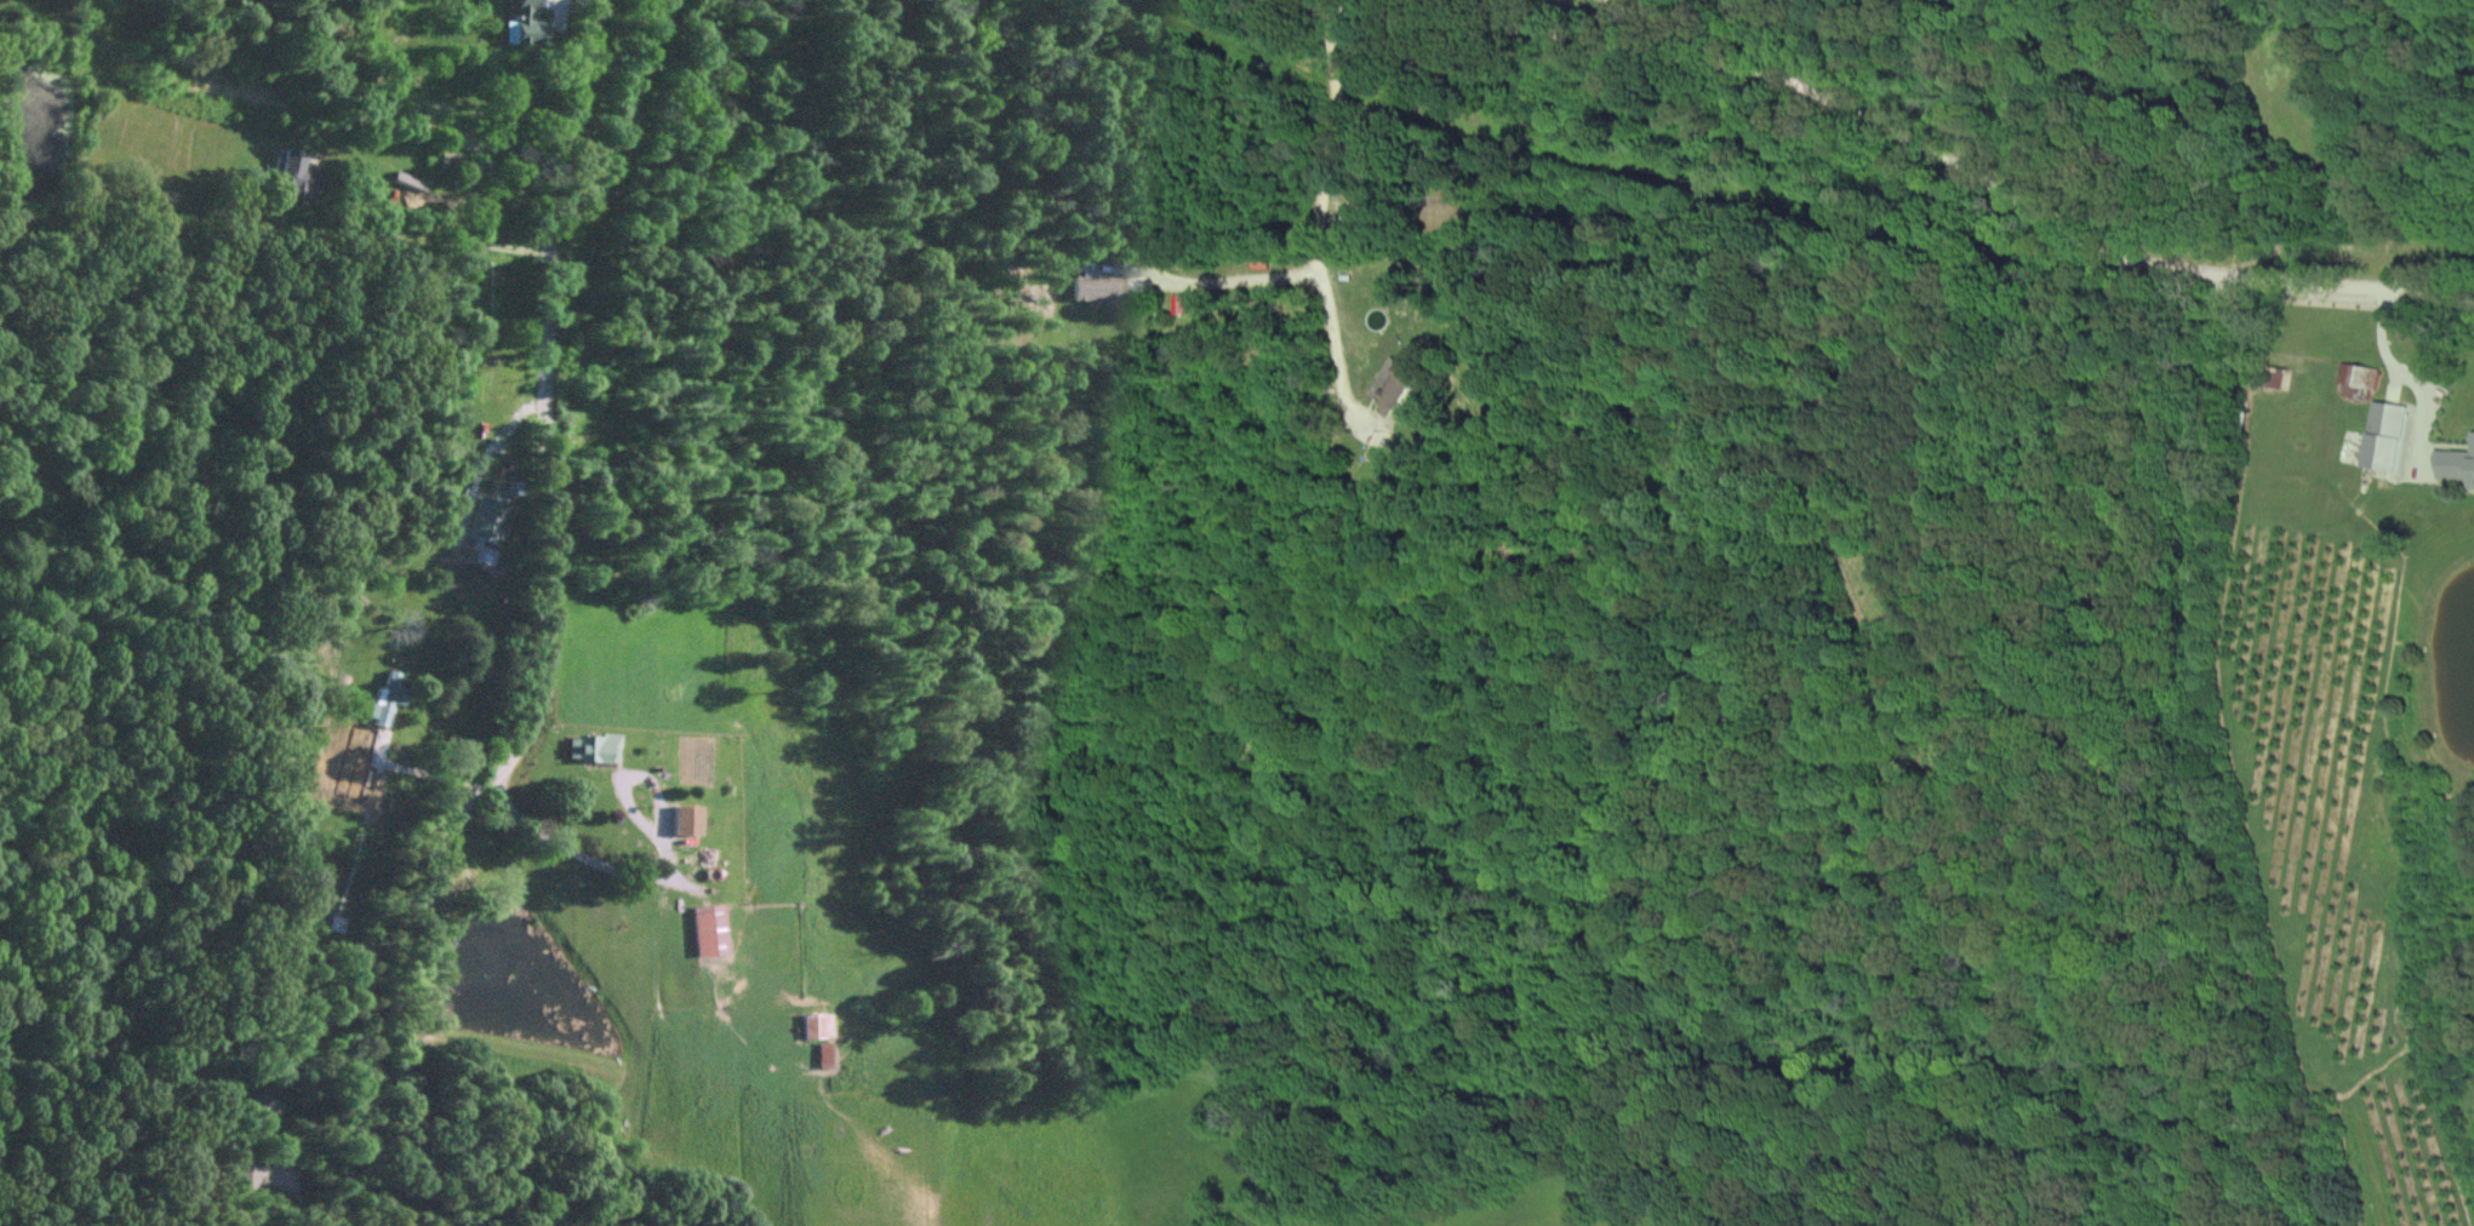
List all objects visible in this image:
road: (1320, 4)
building: (520, 24)
road: (1890, 130)
building: (292, 171)
road: (1319, 228)
road: (438, 240)
road: (1233, 280)
building: (1095, 287)
road: (2406, 378)
building: (2355, 380)
building: (1393, 384)
building: (2383, 437)
building: (2456, 465)
building: (484, 520)
road: (547, 626)
building: (384, 695)
building: (589, 746)
road: (417, 769)
building: (681, 818)
road: (661, 876)
building: (707, 928)
building: (810, 1024)
building: (253, 1110)
building: (246, 1174)

